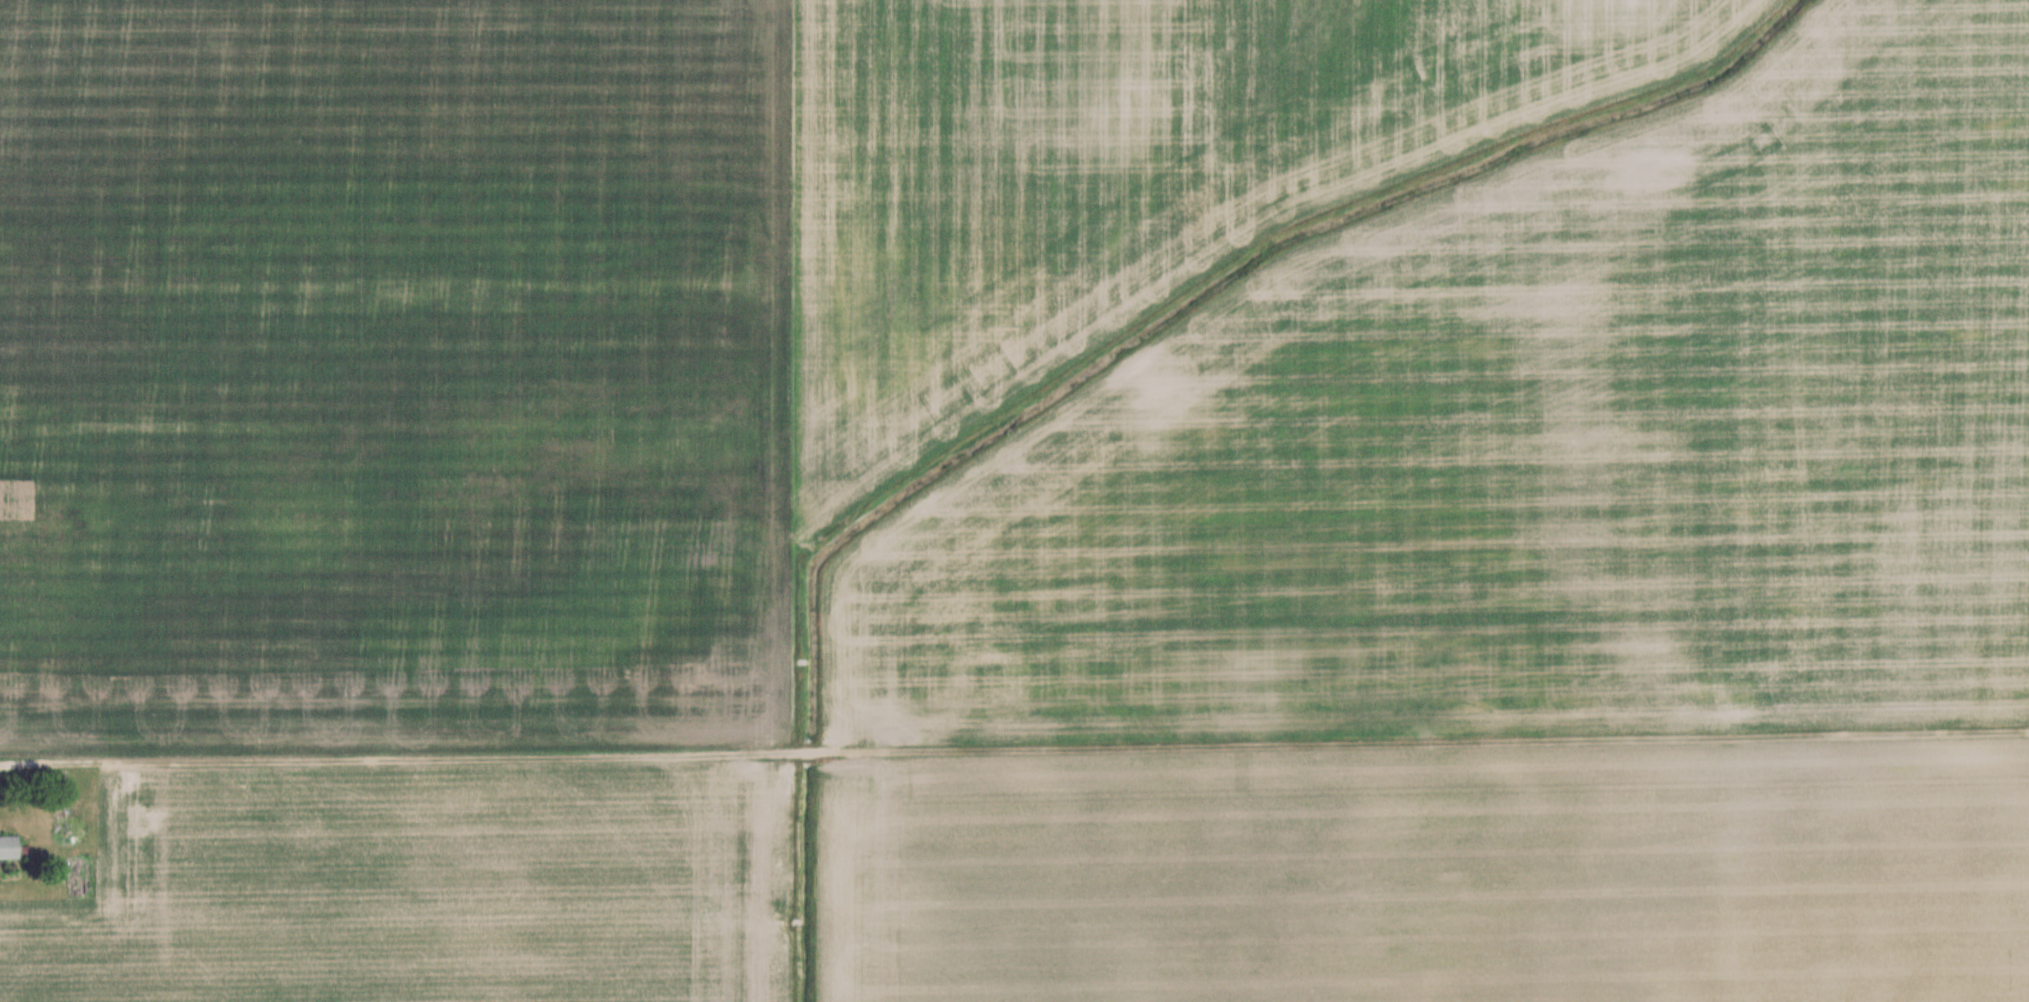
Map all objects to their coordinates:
building: (9, 846)

